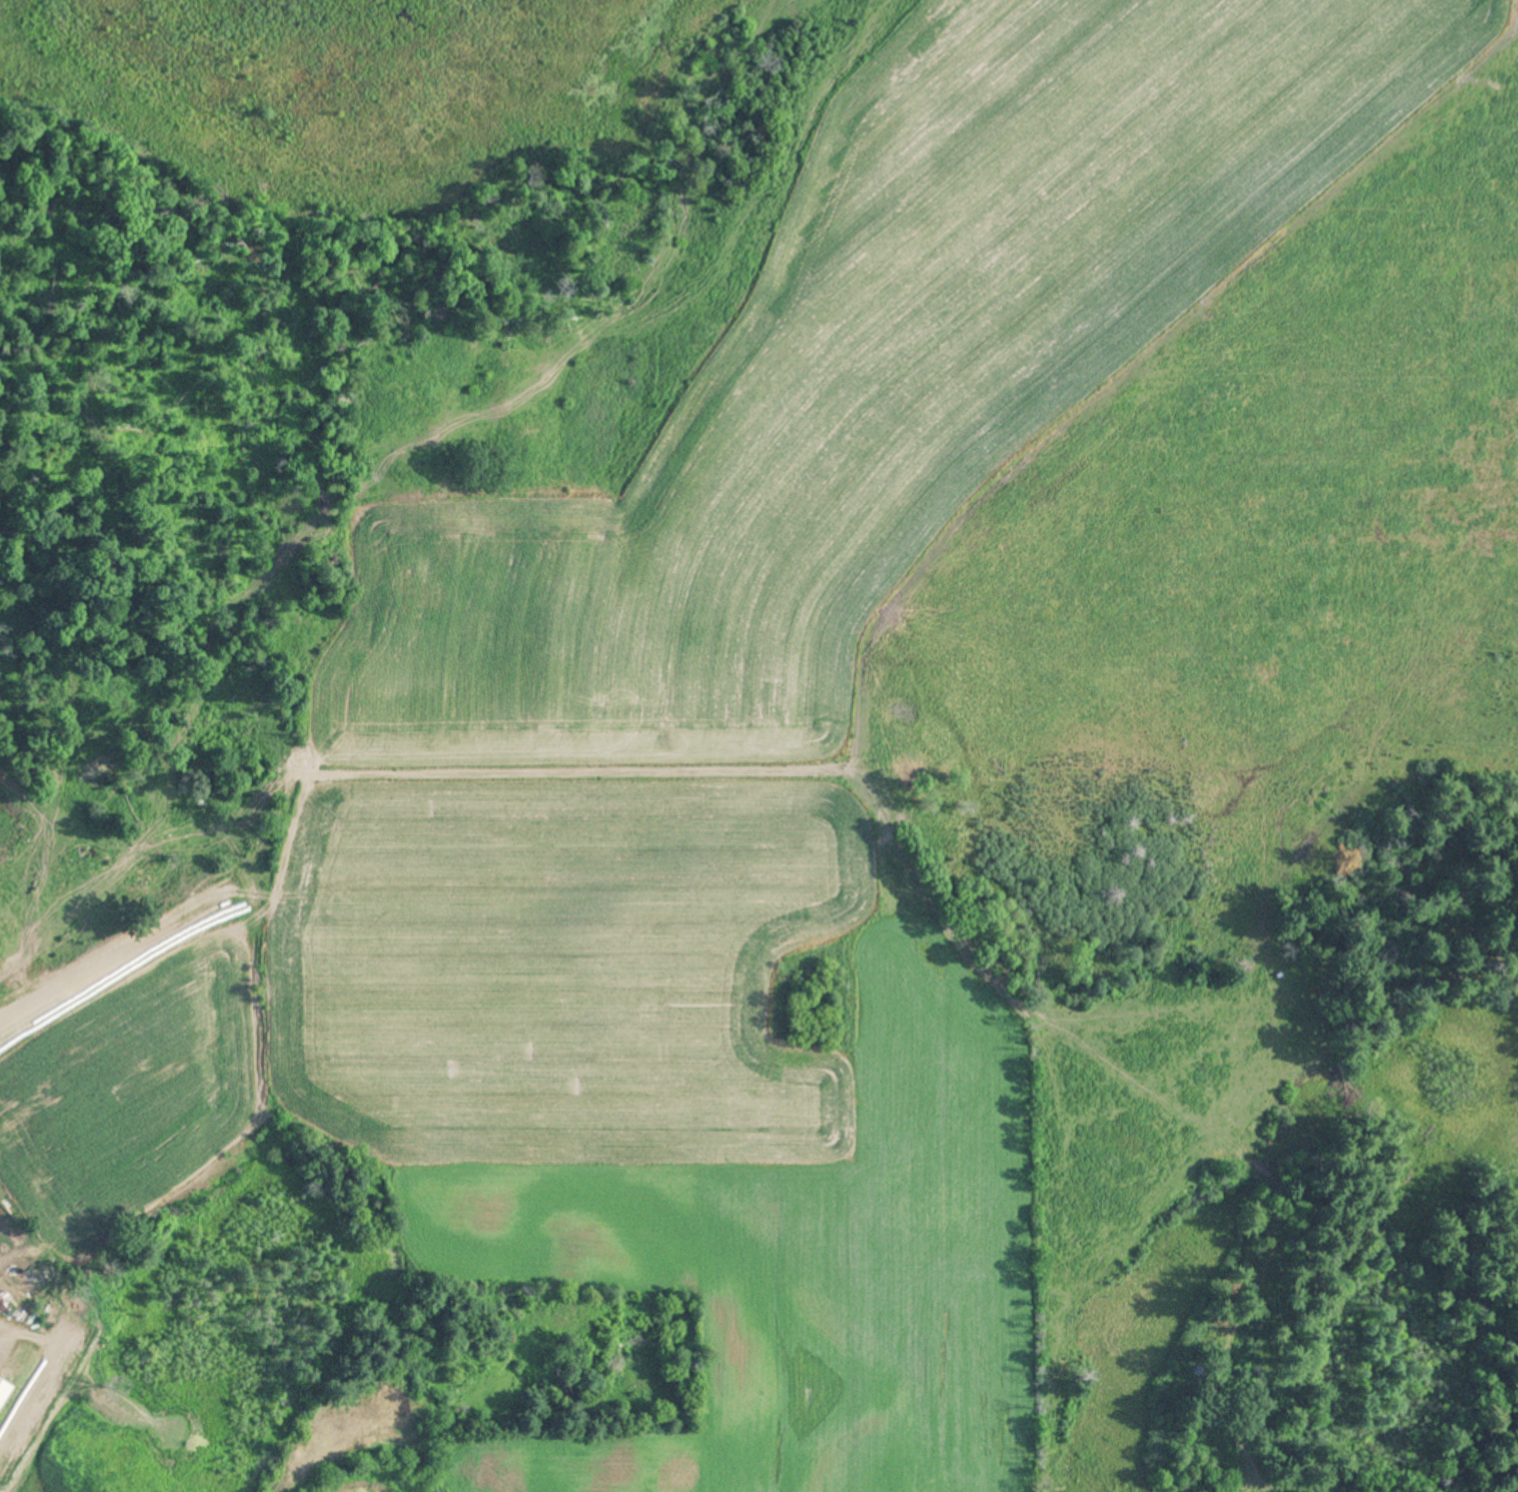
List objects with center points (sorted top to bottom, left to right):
building: (5, 1392)

